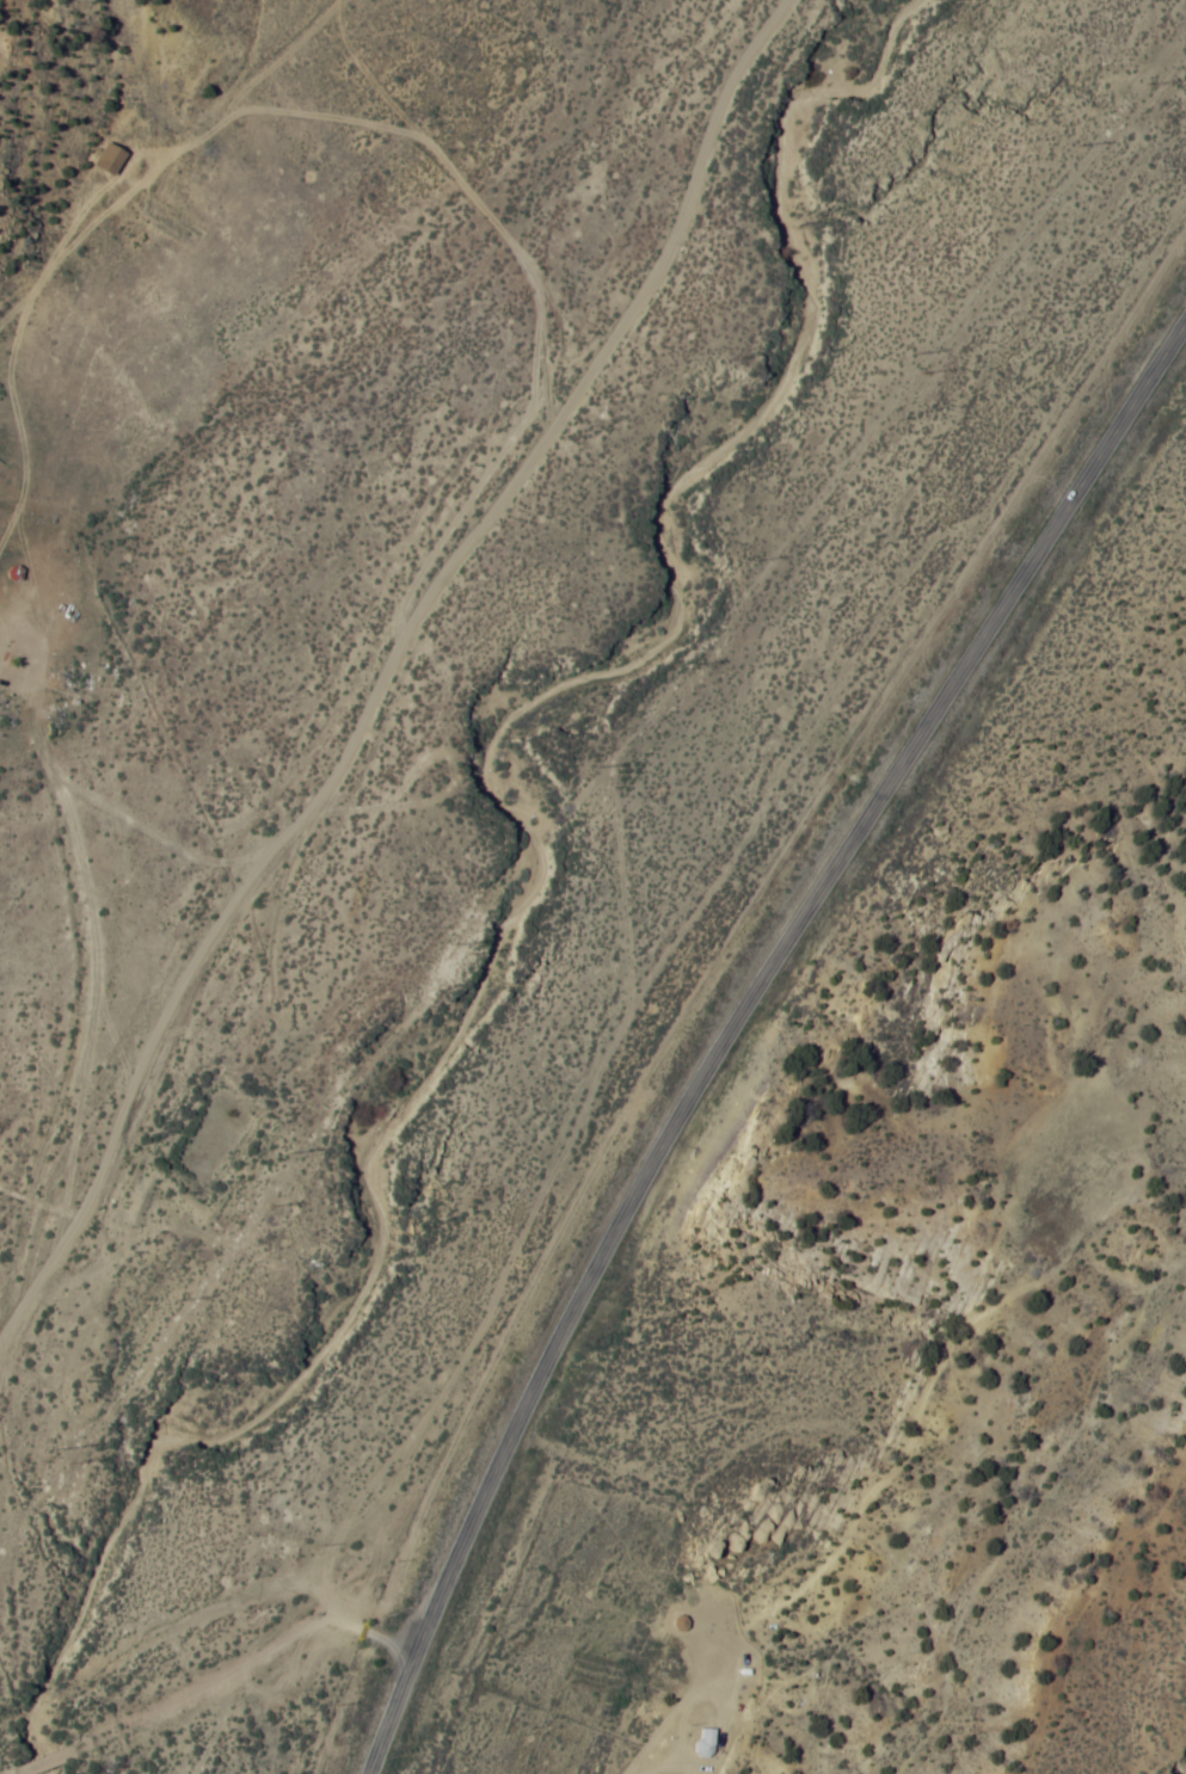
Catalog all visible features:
building: (110, 159)
road: (350, 673)
road: (779, 968)
road: (203, 1678)
road: (389, 1708)

